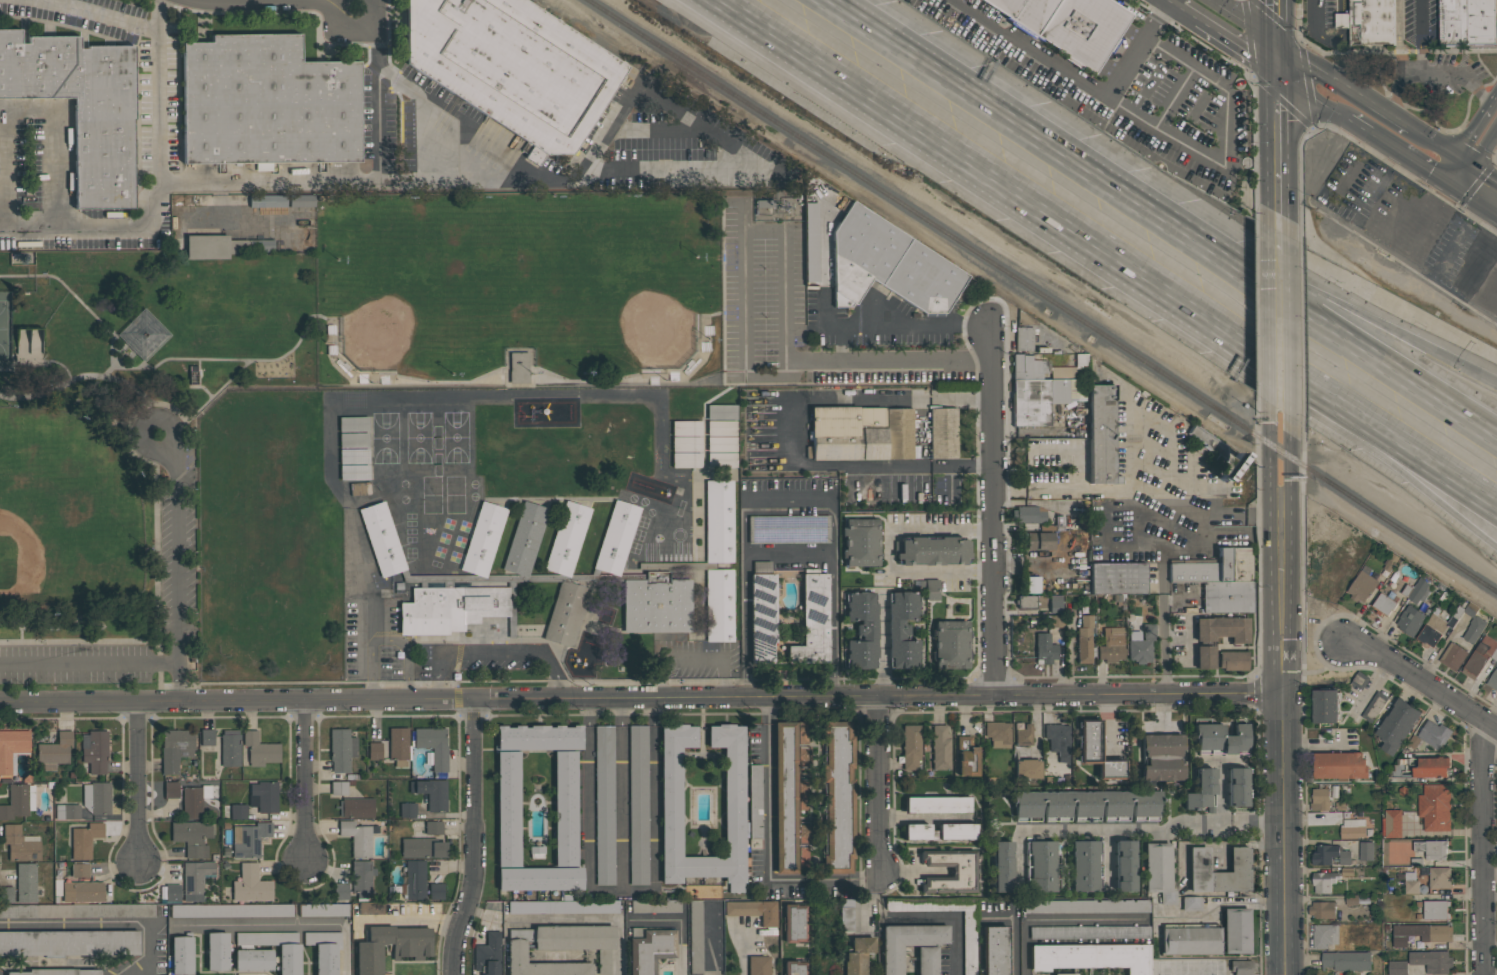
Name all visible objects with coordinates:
road: (1166, 6)
road: (1343, 6)
road: (96, 17)
road: (1317, 17)
road: (1343, 20)
road: (1190, 21)
road: (1243, 22)
road: (1275, 22)
building: (1368, 22)
building: (1466, 22)
building: (1068, 25)
building: (1496, 27)
road: (1422, 37)
road: (1333, 42)
road: (1240, 54)
road: (1276, 61)
building: (512, 67)
road: (924, 68)
road: (938, 68)
road: (1431, 75)
road: (1078, 78)
road: (1342, 87)
road: (1311, 99)
building: (267, 102)
building: (81, 106)
road: (27, 110)
road: (457, 119)
road: (1474, 125)
road: (1224, 144)
road: (1276, 146)
road: (742, 150)
road: (1403, 156)
road: (1453, 158)
road: (425, 159)
road: (1075, 161)
road: (1478, 161)
road: (1445, 168)
road: (972, 169)
road: (328, 181)
road: (158, 187)
building: (301, 200)
building: (267, 201)
road: (1478, 205)
building: (810, 214)
road: (763, 231)
road: (1277, 235)
road: (1458, 239)
building: (223, 246)
building: (1479, 262)
building: (888, 264)
road: (1306, 288)
park: (520, 290)
railway: (1043, 298)
road: (1307, 313)
park: (5, 329)
road: (1278, 329)
building: (143, 334)
building: (1024, 338)
road: (841, 343)
road: (40, 362)
road: (149, 368)
road: (199, 381)
building: (1041, 387)
road: (52, 388)
building: (721, 411)
road: (177, 412)
building: (353, 423)
road: (1364, 423)
building: (686, 427)
building: (721, 427)
road: (795, 432)
building: (860, 433)
building: (943, 433)
building: (1101, 433)
building: (353, 439)
building: (1208, 441)
building: (686, 443)
building: (721, 443)
park: (124, 448)
road: (1361, 448)
building: (354, 455)
building: (686, 459)
building: (721, 459)
building: (354, 471)
road: (1127, 476)
road: (994, 504)
park: (72, 512)
building: (1028, 513)
road: (175, 520)
building: (718, 520)
road: (1135, 522)
building: (788, 528)
road: (156, 535)
building: (616, 537)
building: (382, 538)
building: (483, 538)
building: (525, 538)
building: (567, 538)
building: (1040, 540)
building: (861, 541)
road: (1290, 544)
road: (1270, 545)
building: (1355, 548)
building: (932, 550)
road: (889, 551)
road: (790, 556)
road: (1162, 560)
building: (1118, 578)
building: (1220, 579)
building: (1031, 584)
building: (1362, 586)
building: (932, 589)
building: (1416, 591)
building: (1026, 601)
building: (656, 603)
building: (719, 604)
building: (1055, 604)
building: (1384, 604)
building: (450, 608)
building: (565, 612)
building: (762, 616)
building: (812, 620)
building: (1410, 620)
building: (1437, 627)
building: (1222, 628)
building: (902, 629)
building: (1473, 629)
building: (861, 630)
building: (1084, 638)
road: (389, 640)
road: (79, 641)
building: (951, 644)
building: (1141, 644)
building: (1111, 645)
road: (881, 646)
building: (1045, 648)
road: (497, 652)
building: (1205, 656)
building: (1453, 656)
building: (1480, 657)
road: (692, 658)
building: (1233, 660)
road: (89, 664)
building: (1359, 680)
building: (1493, 680)
road: (1422, 682)
road: (858, 697)
road: (217, 699)
building: (1326, 706)
building: (1373, 707)
building: (1397, 725)
building: (998, 733)
building: (1433, 734)
building: (1024, 735)
building: (207, 736)
building: (1220, 738)
building: (1058, 739)
road: (1313, 744)
building: (398, 745)
building: (433, 745)
building: (911, 745)
building: (11, 747)
building: (230, 747)
building: (940, 747)
building: (175, 748)
building: (341, 748)
building: (259, 749)
building: (54, 750)
building: (94, 750)
building: (375, 751)
building: (1096, 751)
building: (967, 756)
building: (1162, 757)
building: (1339, 766)
building: (1431, 767)
building: (1027, 768)
road: (307, 780)
road: (140, 782)
road: (770, 785)
road: (877, 786)
building: (1237, 787)
building: (338, 788)
building: (171, 789)
building: (1201, 791)
building: (431, 793)
road: (1221, 794)
building: (265, 796)
building: (838, 796)
building: (96, 797)
building: (790, 797)
building: (18, 800)
building: (1320, 800)
building: (670, 801)
building: (755, 801)
building: (191, 802)
building: (638, 804)
building: (937, 804)
building: (604, 805)
building: (1086, 805)
building: (356, 807)
building: (1434, 807)
building: (565, 808)
building: (407, 809)
road: (589, 810)
building: (67, 811)
building: (238, 811)
building: (1391, 823)
building: (433, 827)
road: (1151, 829)
building: (1352, 829)
building: (939, 831)
road: (1284, 833)
building: (192, 836)
building: (357, 837)
road: (477, 838)
building: (84, 839)
building: (249, 839)
building: (20, 843)
building: (422, 847)
road: (1482, 847)
building: (1431, 849)
building: (1366, 851)
building: (1329, 855)
building: (1042, 865)
building: (1083, 865)
building: (1124, 865)
building: (1001, 866)
building: (80, 869)
building: (1159, 870)
building: (963, 871)
building: (1219, 871)
building: (1347, 872)
building: (362, 877)
building: (1439, 878)
building: (196, 879)
building: (414, 880)
road: (823, 880)
building: (1324, 881)
building: (26, 882)
building: (1410, 883)
building: (251, 884)
building: (82, 891)
building: (341, 891)
building: (435, 891)
road: (637, 891)
building: (172, 892)
building: (6, 894)
building: (1351, 900)
building: (1191, 903)
building: (652, 906)
building: (1086, 906)
building: (562, 907)
building: (122, 910)
building: (231, 910)
building: (324, 910)
building: (753, 910)
building: (1322, 910)
building: (1436, 910)
building: (36, 912)
road: (1173, 916)
building: (846, 919)
road: (926, 919)
road: (595, 920)
road: (410, 921)
road: (680, 922)
building: (793, 922)
road: (104, 923)
road: (288, 923)
road: (1013, 927)
building: (1089, 932)
building: (965, 933)
building: (1236, 934)
building: (1421, 934)
building: (1324, 936)
building: (695, 937)
building: (1190, 939)
building: (68, 943)
building: (560, 948)
building: (649, 949)
building: (324, 950)
building: (411, 950)
building: (994, 950)
building: (217, 951)
building: (488, 954)
building: (181, 955)
building: (857, 955)
road: (744, 956)
building: (1090, 957)
building: (253, 959)
building: (289, 959)
building: (892, 960)
building: (1346, 961)
building: (1431, 961)
building: (758, 965)
building: (794, 967)
building: (1241, 967)
building: (1397, 967)
building: (56, 971)
building: (1064, 974)

